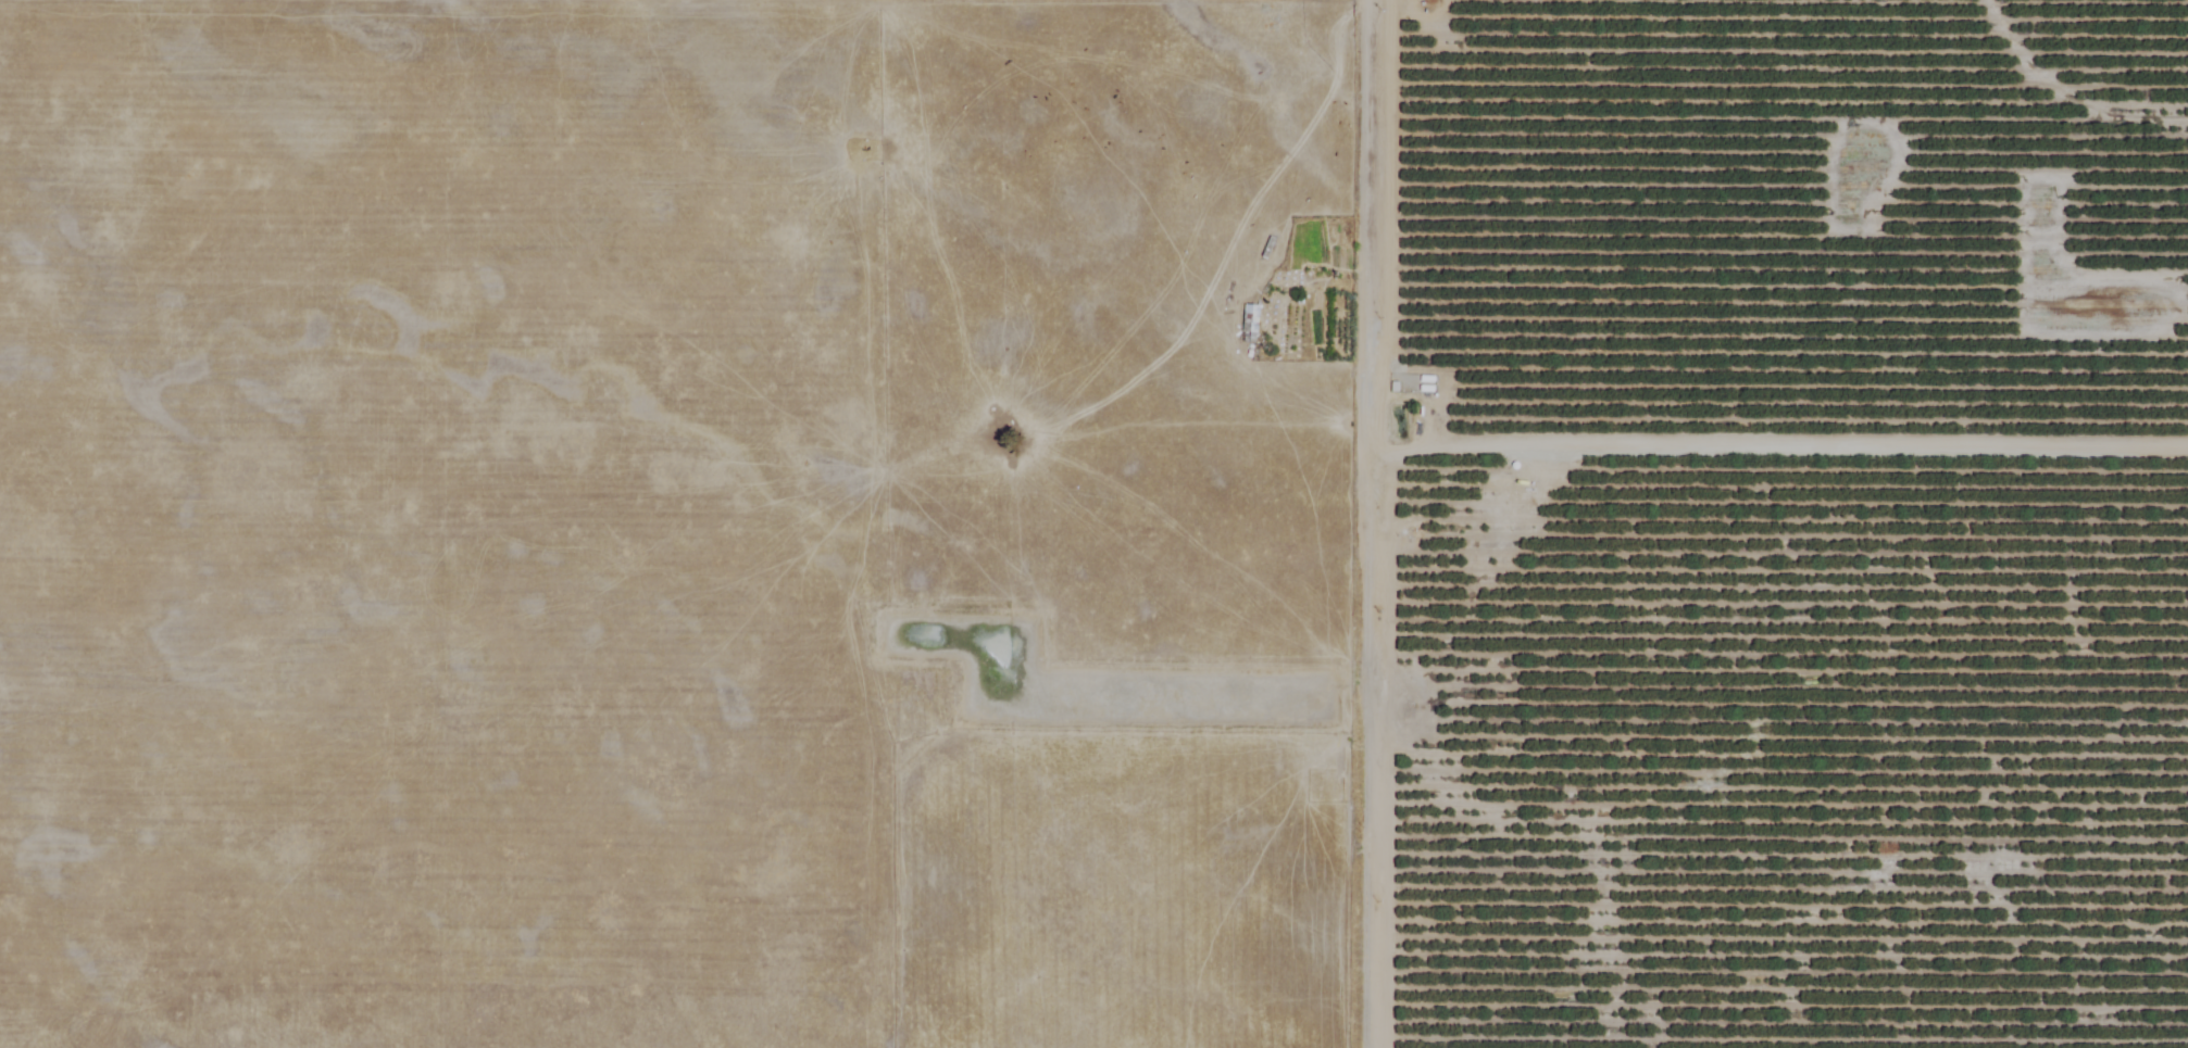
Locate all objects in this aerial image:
building: (1247, 324)
crop: (1093, 523)
road: (1379, 523)

